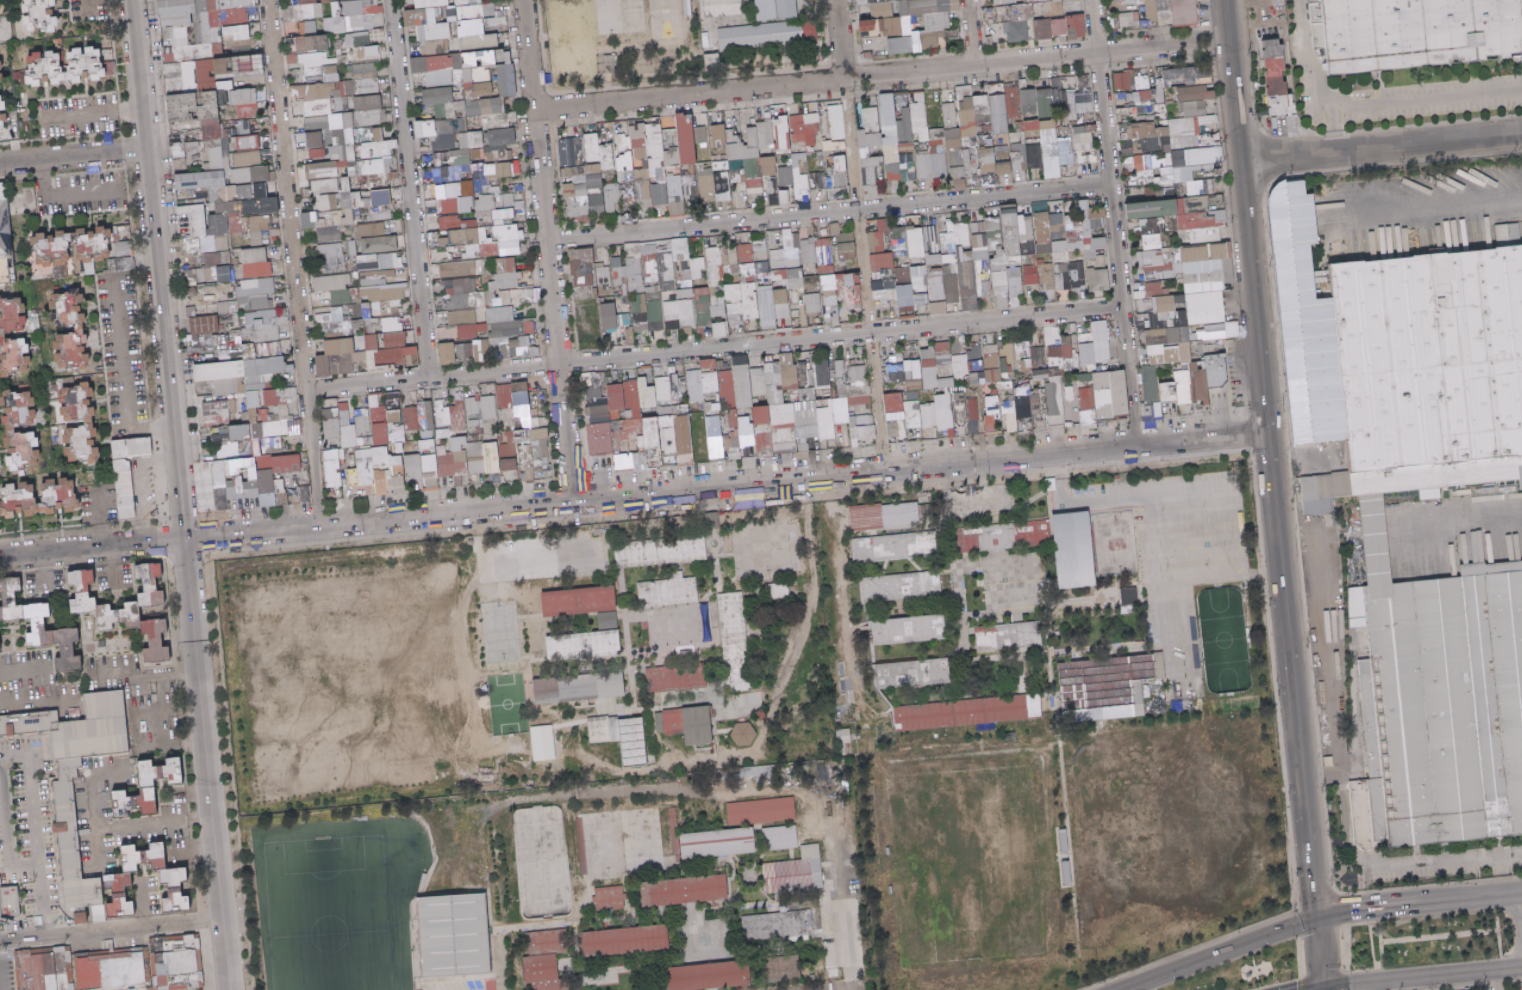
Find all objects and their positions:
park: (659, 17)
park: (566, 38)
park: (356, 702)
park: (1167, 773)
park: (619, 843)
park: (539, 861)
park: (964, 864)
park: (1167, 877)
park: (338, 902)
parking lot: (838, 950)
parking lot: (465, 985)

